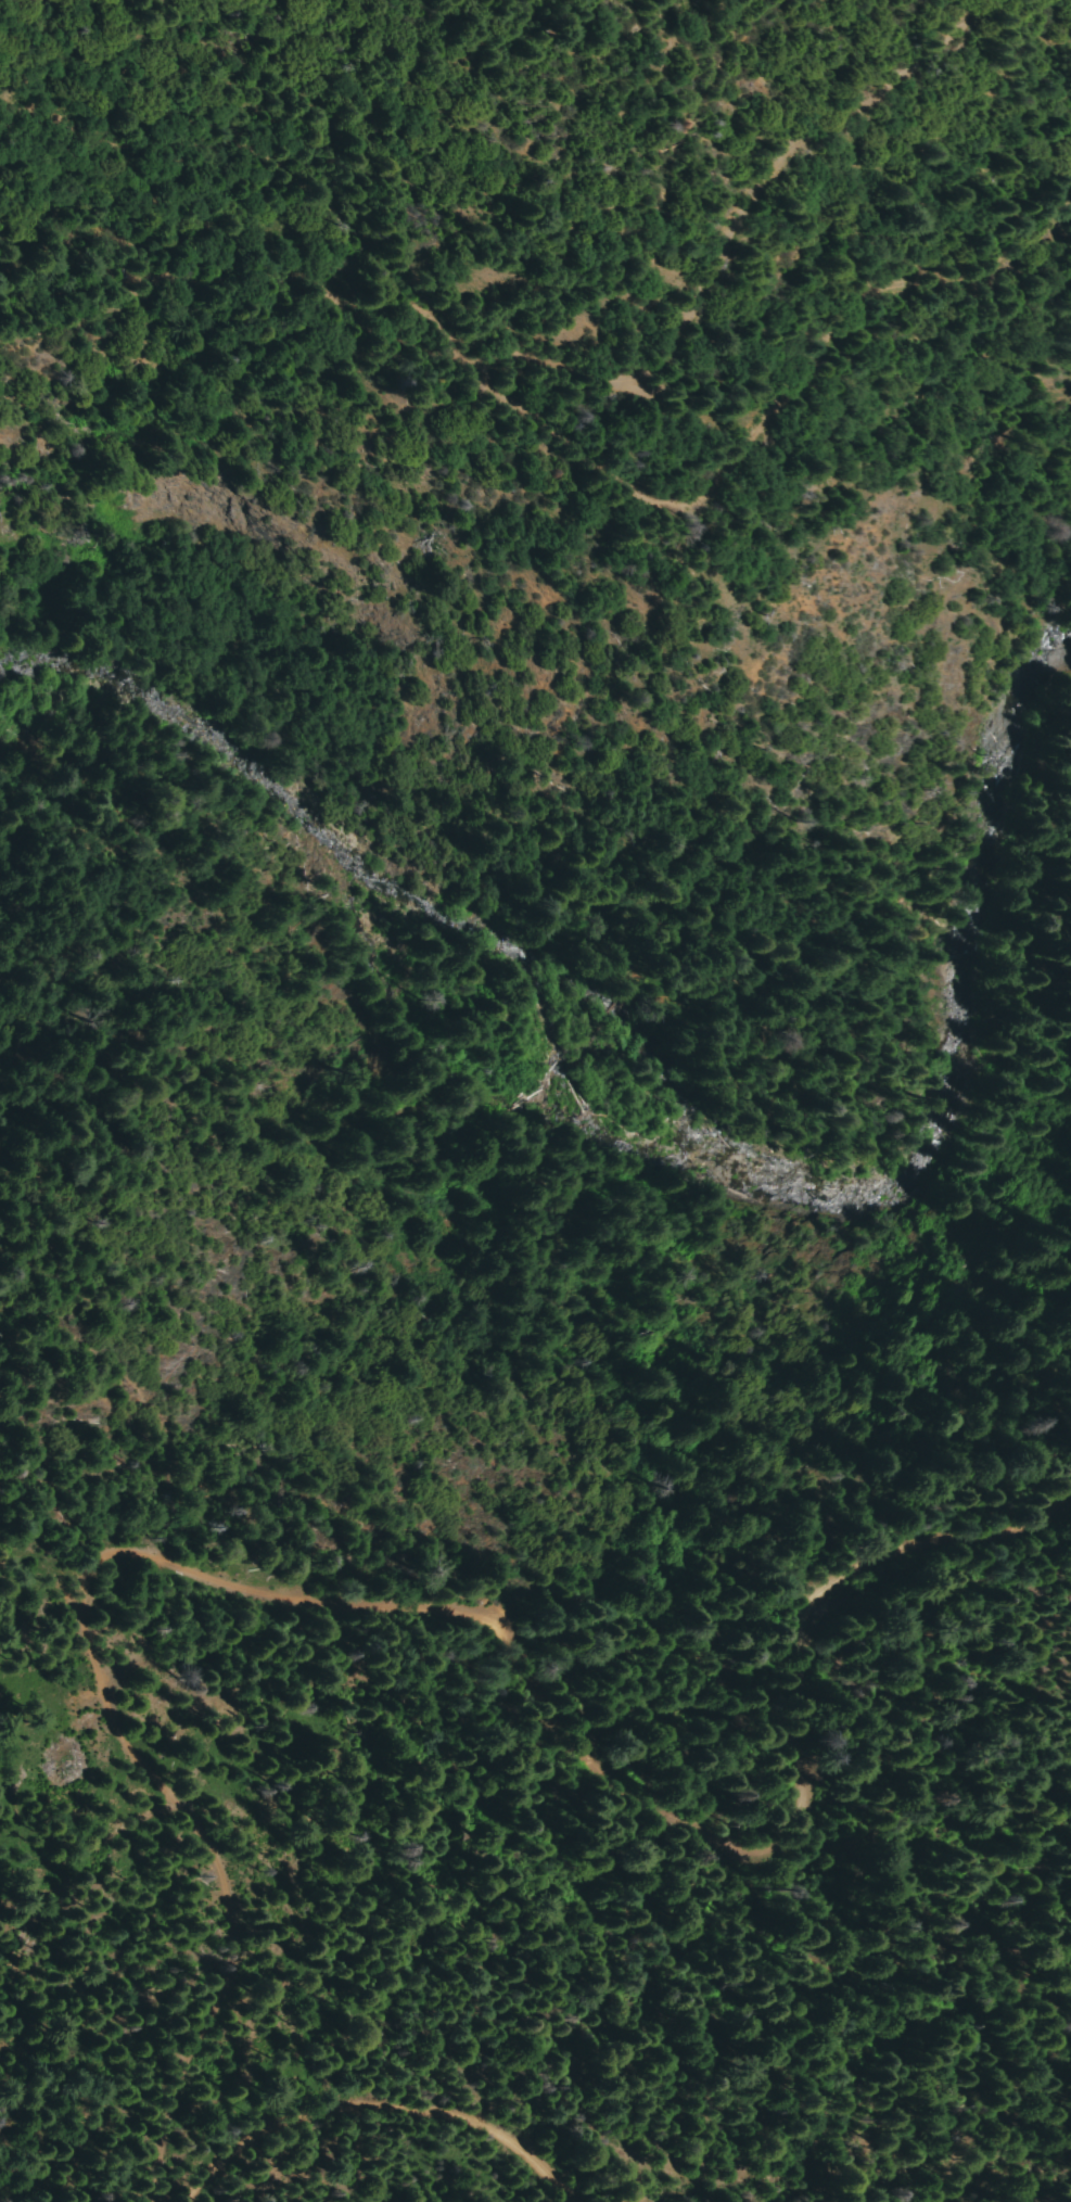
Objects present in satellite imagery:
river: (1010, 711)
river: (563, 1118)
road: (391, 2113)

